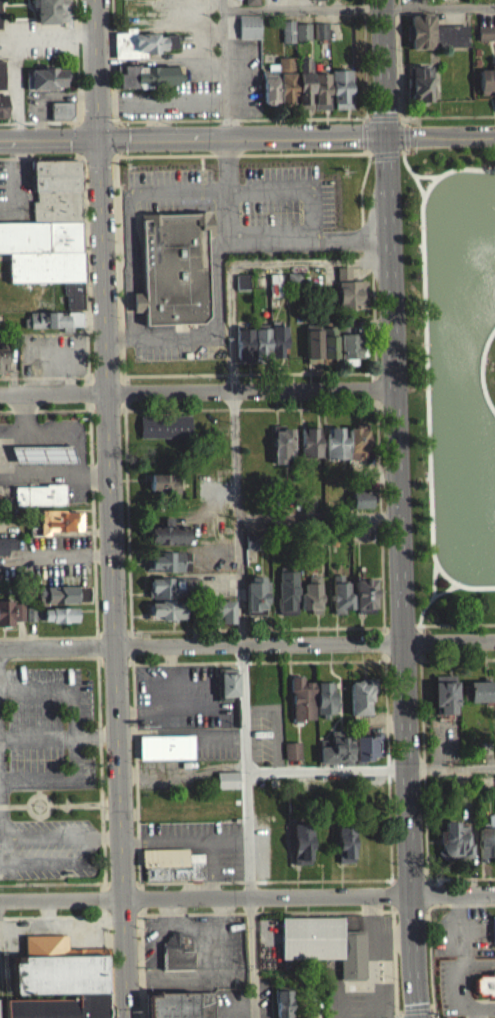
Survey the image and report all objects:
building: (140, 2)
building: (317, 4)
building: (250, 6)
road: (297, 9)
building: (51, 17)
building: (0, 28)
building: (248, 35)
building: (320, 39)
building: (294, 40)
building: (420, 40)
building: (450, 44)
building: (141, 52)
road: (96, 68)
building: (285, 71)
building: (2, 83)
building: (148, 84)
building: (47, 87)
building: (486, 90)
building: (418, 91)
building: (269, 92)
building: (303, 92)
building: (286, 96)
building: (341, 97)
building: (320, 99)
building: (2, 114)
building: (61, 118)
road: (49, 119)
traffic signals: (99, 137)
road: (49, 138)
road: (297, 139)
traffic signals: (392, 141)
road: (50, 157)
road: (442, 172)
road: (424, 195)
road: (310, 237)
building: (48, 239)
building: (173, 267)
road: (214, 284)
road: (424, 285)
building: (293, 286)
building: (241, 290)
building: (349, 299)
building: (52, 328)
building: (277, 348)
road: (484, 350)
building: (261, 351)
building: (320, 351)
building: (348, 353)
building: (243, 354)
building: (2, 370)
road: (53, 376)
park: (452, 378)
road: (251, 389)
road: (53, 392)
road: (485, 394)
road: (54, 408)
road: (69, 430)
building: (164, 434)
building: (310, 450)
building: (357, 450)
building: (335, 452)
building: (281, 453)
building: (42, 462)
building: (163, 491)
road: (431, 497)
building: (38, 503)
building: (361, 507)
road: (398, 509)
road: (318, 515)
building: (57, 518)
building: (58, 530)
building: (167, 532)
building: (313, 533)
building: (257, 539)
building: (167, 542)
building: (7, 543)
building: (251, 550)
building: (6, 553)
building: (167, 559)
building: (168, 570)
road: (112, 577)
building: (172, 584)
road: (464, 584)
road: (482, 585)
building: (63, 591)
building: (287, 591)
building: (340, 592)
building: (364, 592)
building: (257, 593)
building: (311, 595)
building: (163, 596)
building: (62, 603)
building: (165, 607)
building: (222, 607)
building: (19, 609)
building: (31, 610)
building: (6, 611)
building: (59, 611)
building: (166, 618)
building: (221, 619)
building: (56, 623)
road: (295, 626)
road: (48, 635)
road: (304, 642)
road: (57, 646)
road: (66, 656)
road: (314, 659)
building: (226, 682)
building: (480, 688)
building: (360, 693)
building: (444, 693)
building: (302, 696)
building: (326, 696)
building: (479, 700)
road: (135, 704)
road: (244, 704)
road: (98, 713)
building: (166, 745)
building: (366, 745)
building: (336, 746)
building: (292, 748)
road: (423, 751)
building: (291, 759)
road: (387, 766)
road: (370, 768)
building: (227, 778)
building: (226, 788)
building: (486, 838)
road: (185, 840)
building: (301, 840)
building: (454, 840)
building: (345, 842)
parking lot: (202, 843)
building: (172, 862)
road: (211, 868)
road: (460, 876)
road: (195, 880)
road: (440, 890)
road: (309, 895)
road: (61, 897)
road: (461, 903)
road: (195, 912)
building: (493, 926)
building: (324, 941)
building: (176, 951)
road: (431, 963)
building: (59, 971)
building: (486, 982)
building: (484, 994)
building: (283, 1001)
building: (180, 1003)
road: (0, 1005)
building: (59, 1006)
road: (415, 1012)

